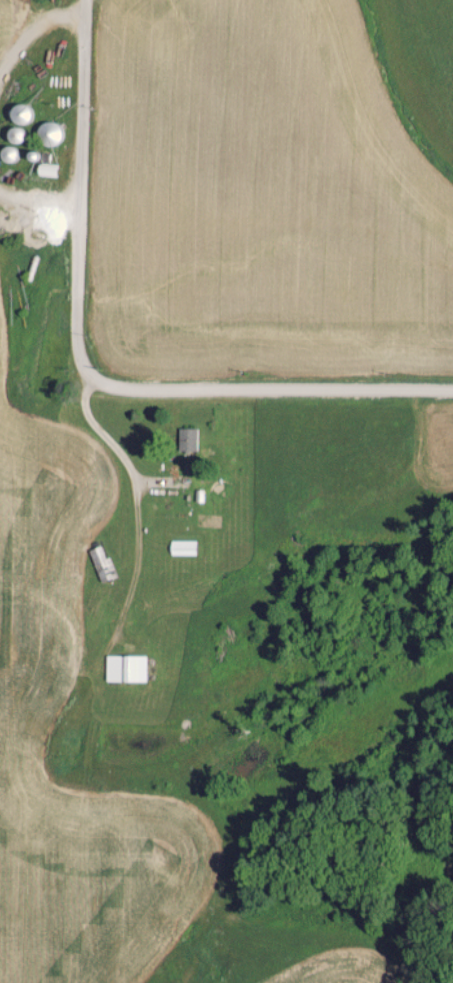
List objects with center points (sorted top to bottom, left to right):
road: (35, 26)
road: (74, 189)
road: (36, 199)
road: (268, 389)
building: (185, 439)

